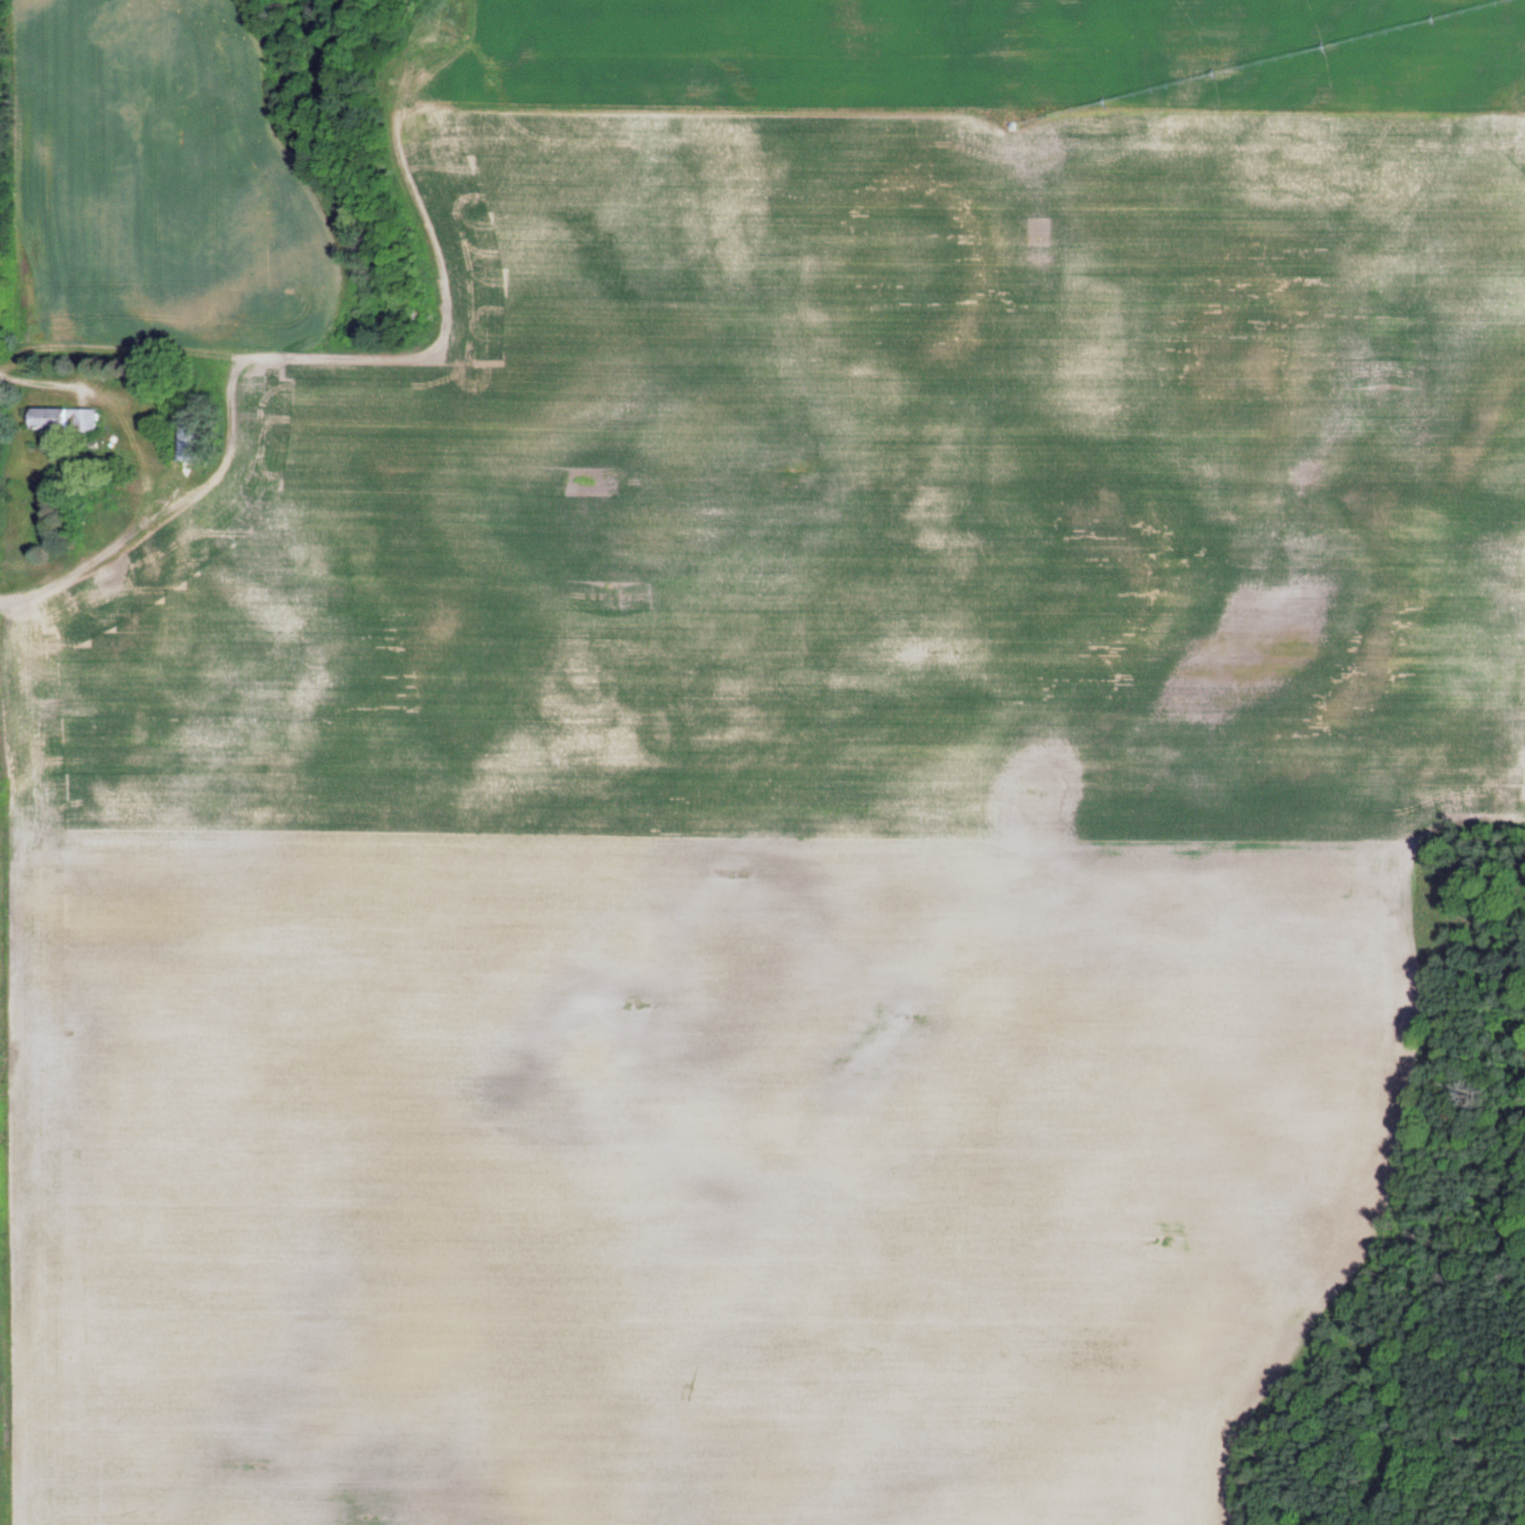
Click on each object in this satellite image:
building: (68, 419)
building: (191, 434)

